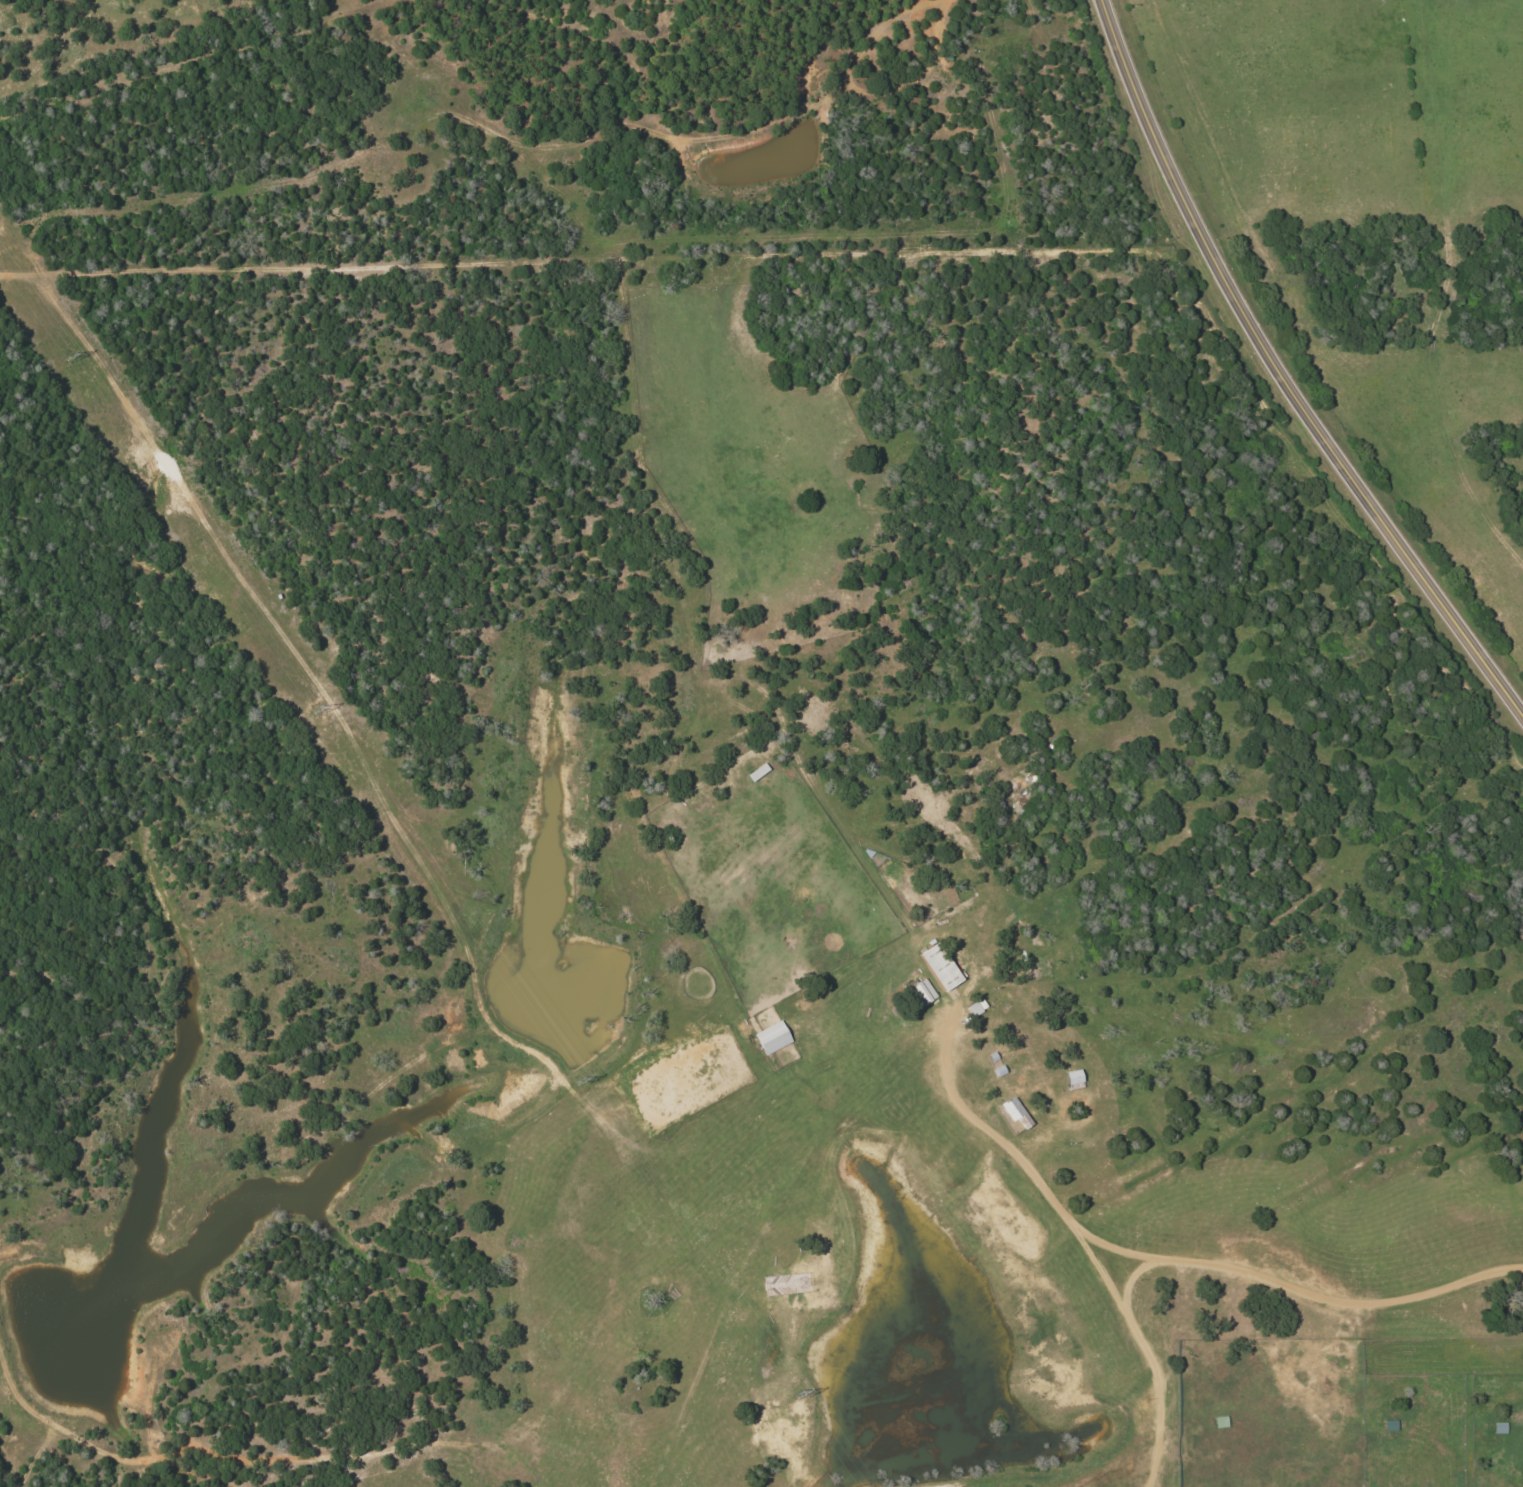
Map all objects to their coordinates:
power tower: (71, 356)
road: (1282, 375)
power tower: (317, 705)
building: (940, 967)
building: (922, 993)
power tower: (578, 1079)
building: (1015, 1111)
road: (1013, 1159)
road: (1211, 1272)
power tower: (797, 1391)

